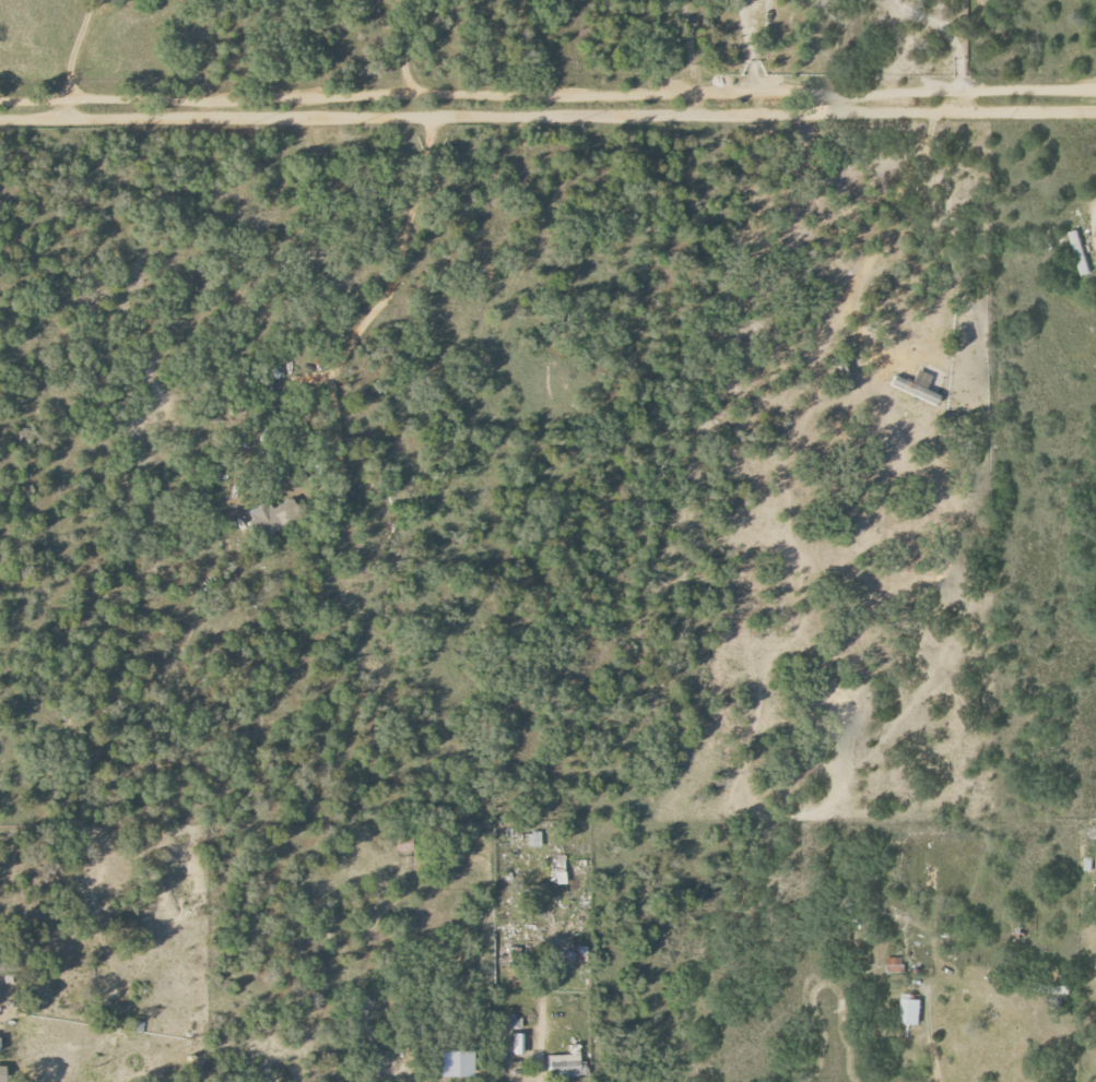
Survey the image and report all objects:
road: (756, 45)
road: (72, 49)
road: (924, 91)
road: (409, 95)
road: (33, 98)
road: (547, 115)
building: (1081, 252)
building: (916, 387)
building: (557, 870)
building: (573, 954)
building: (896, 964)
building: (911, 1010)
building: (514, 1023)
road: (927, 1035)
road: (535, 1043)
building: (518, 1045)
building: (566, 1062)
building: (2, 1073)

